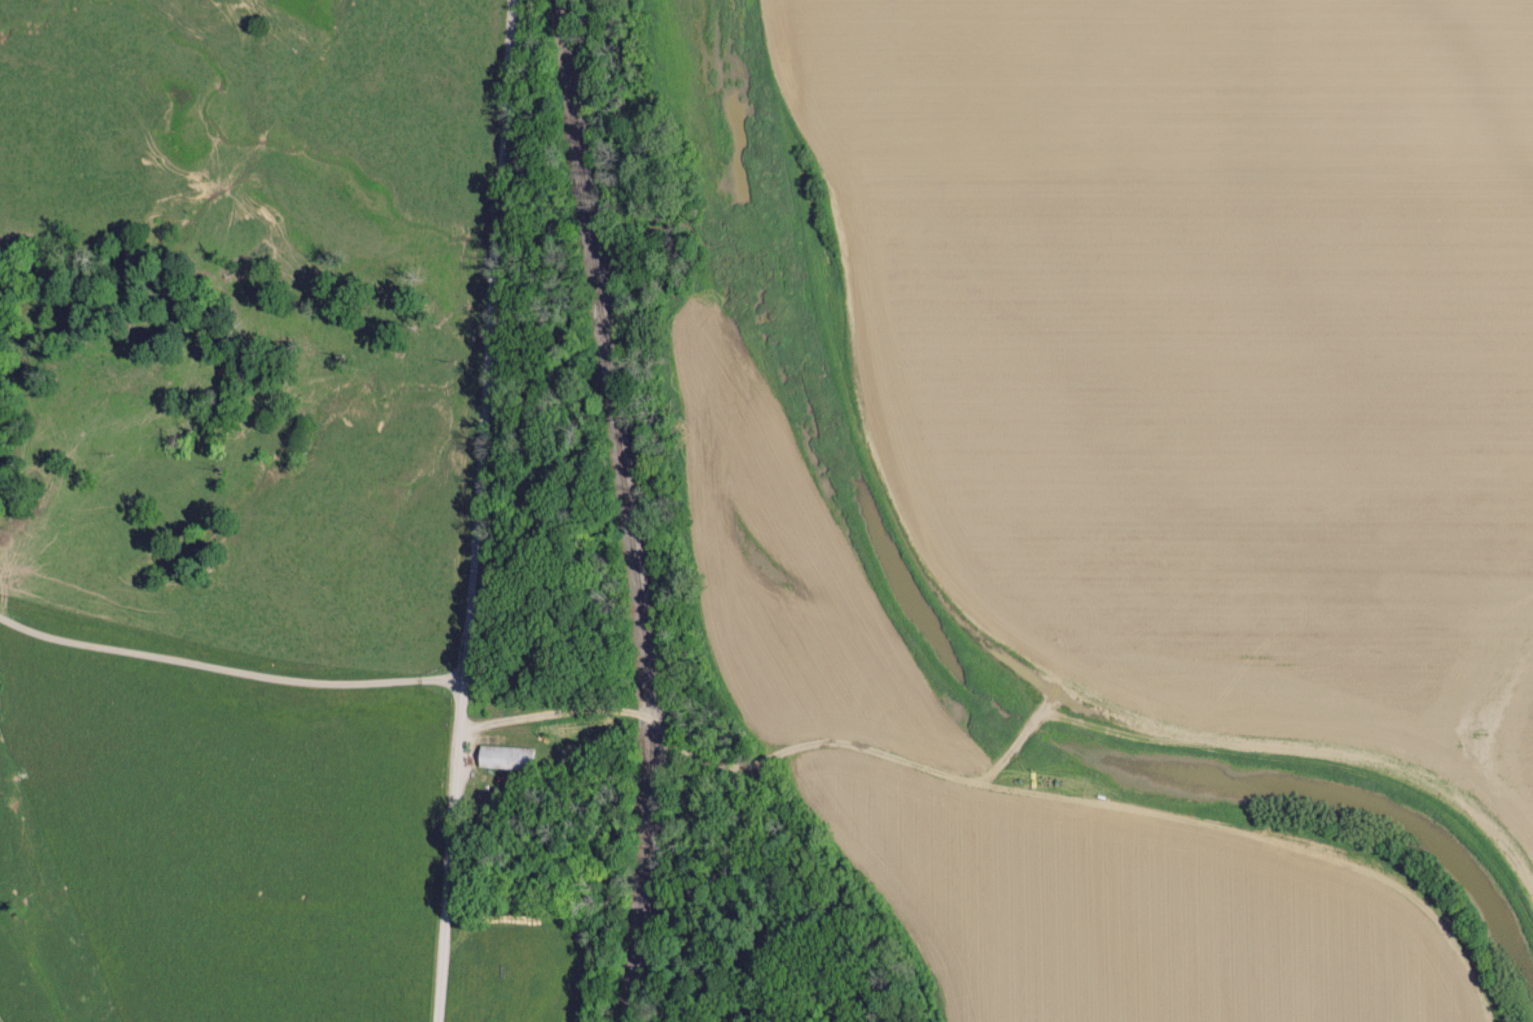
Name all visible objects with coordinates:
railway: (626, 509)
road: (476, 511)
road: (1008, 753)
building: (503, 756)
road: (1279, 834)

